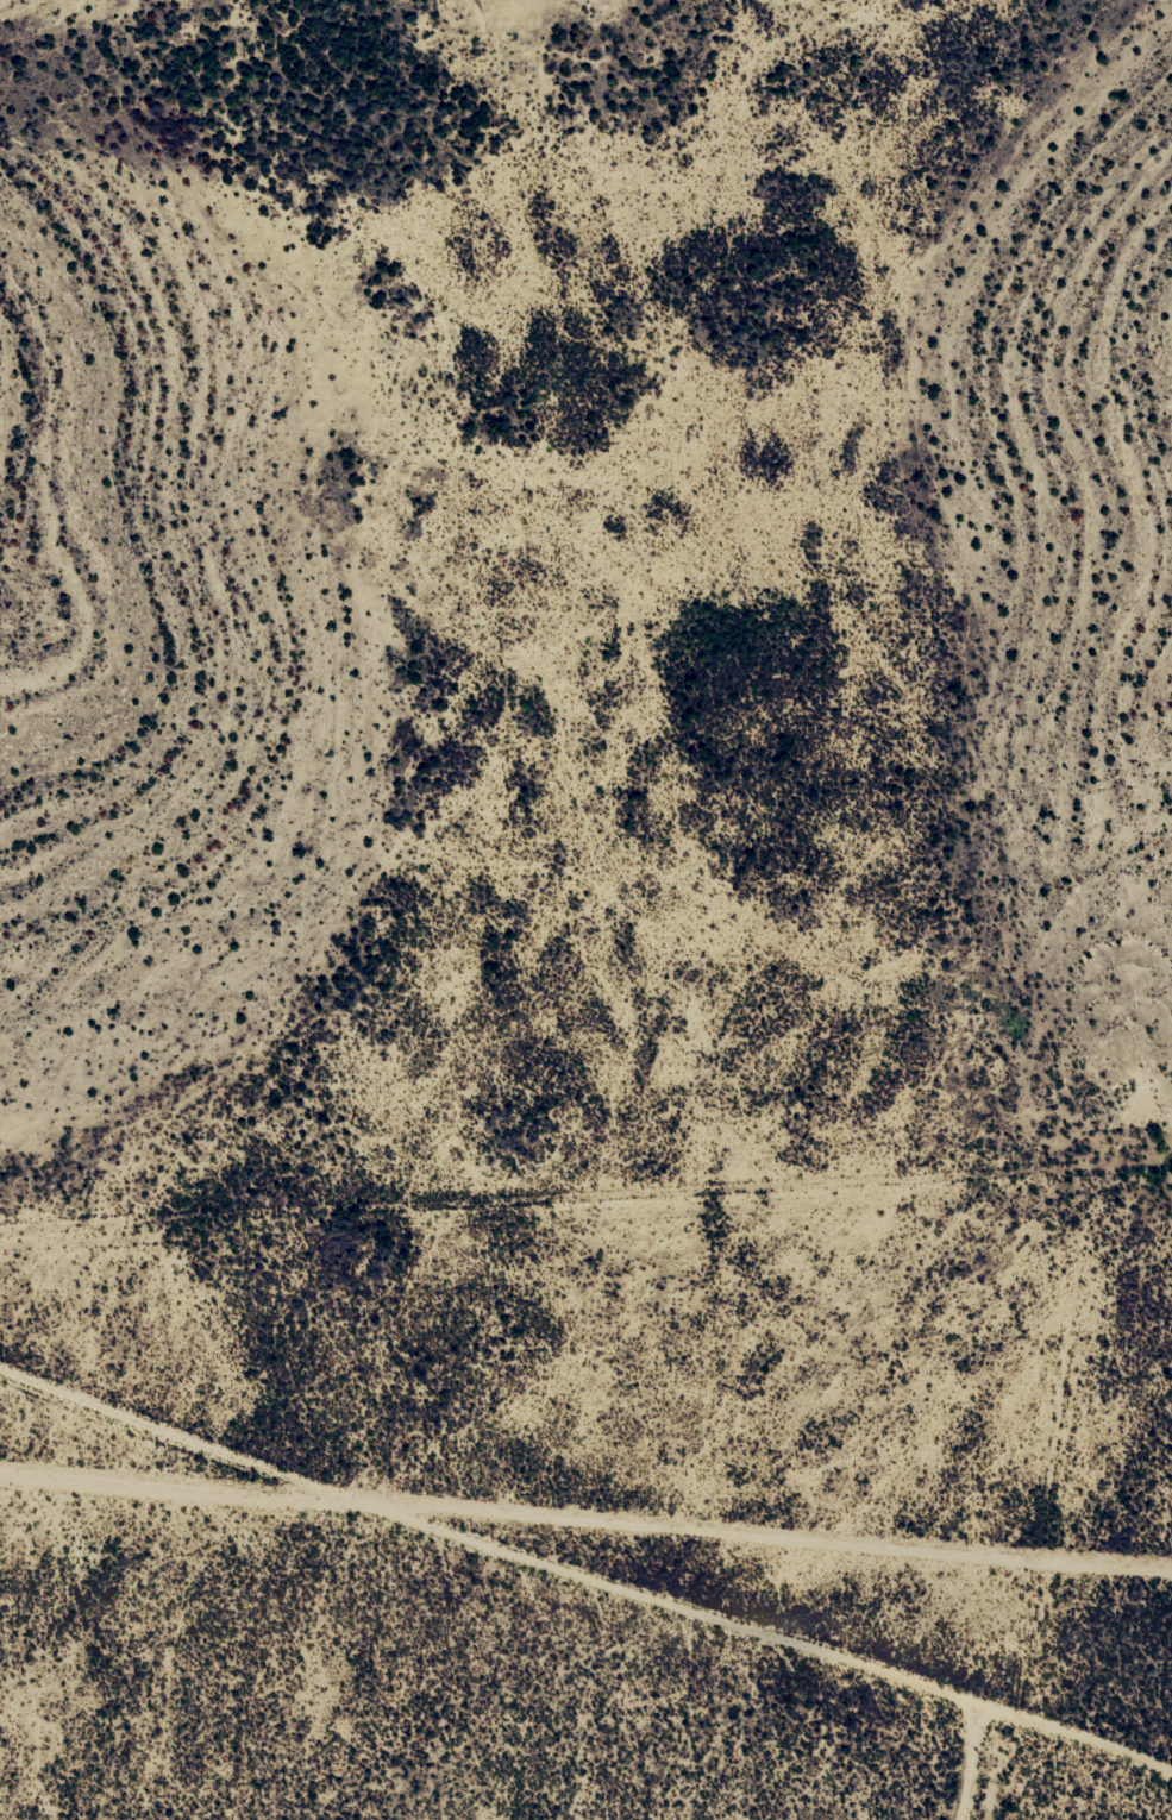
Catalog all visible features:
road: (584, 1582)

